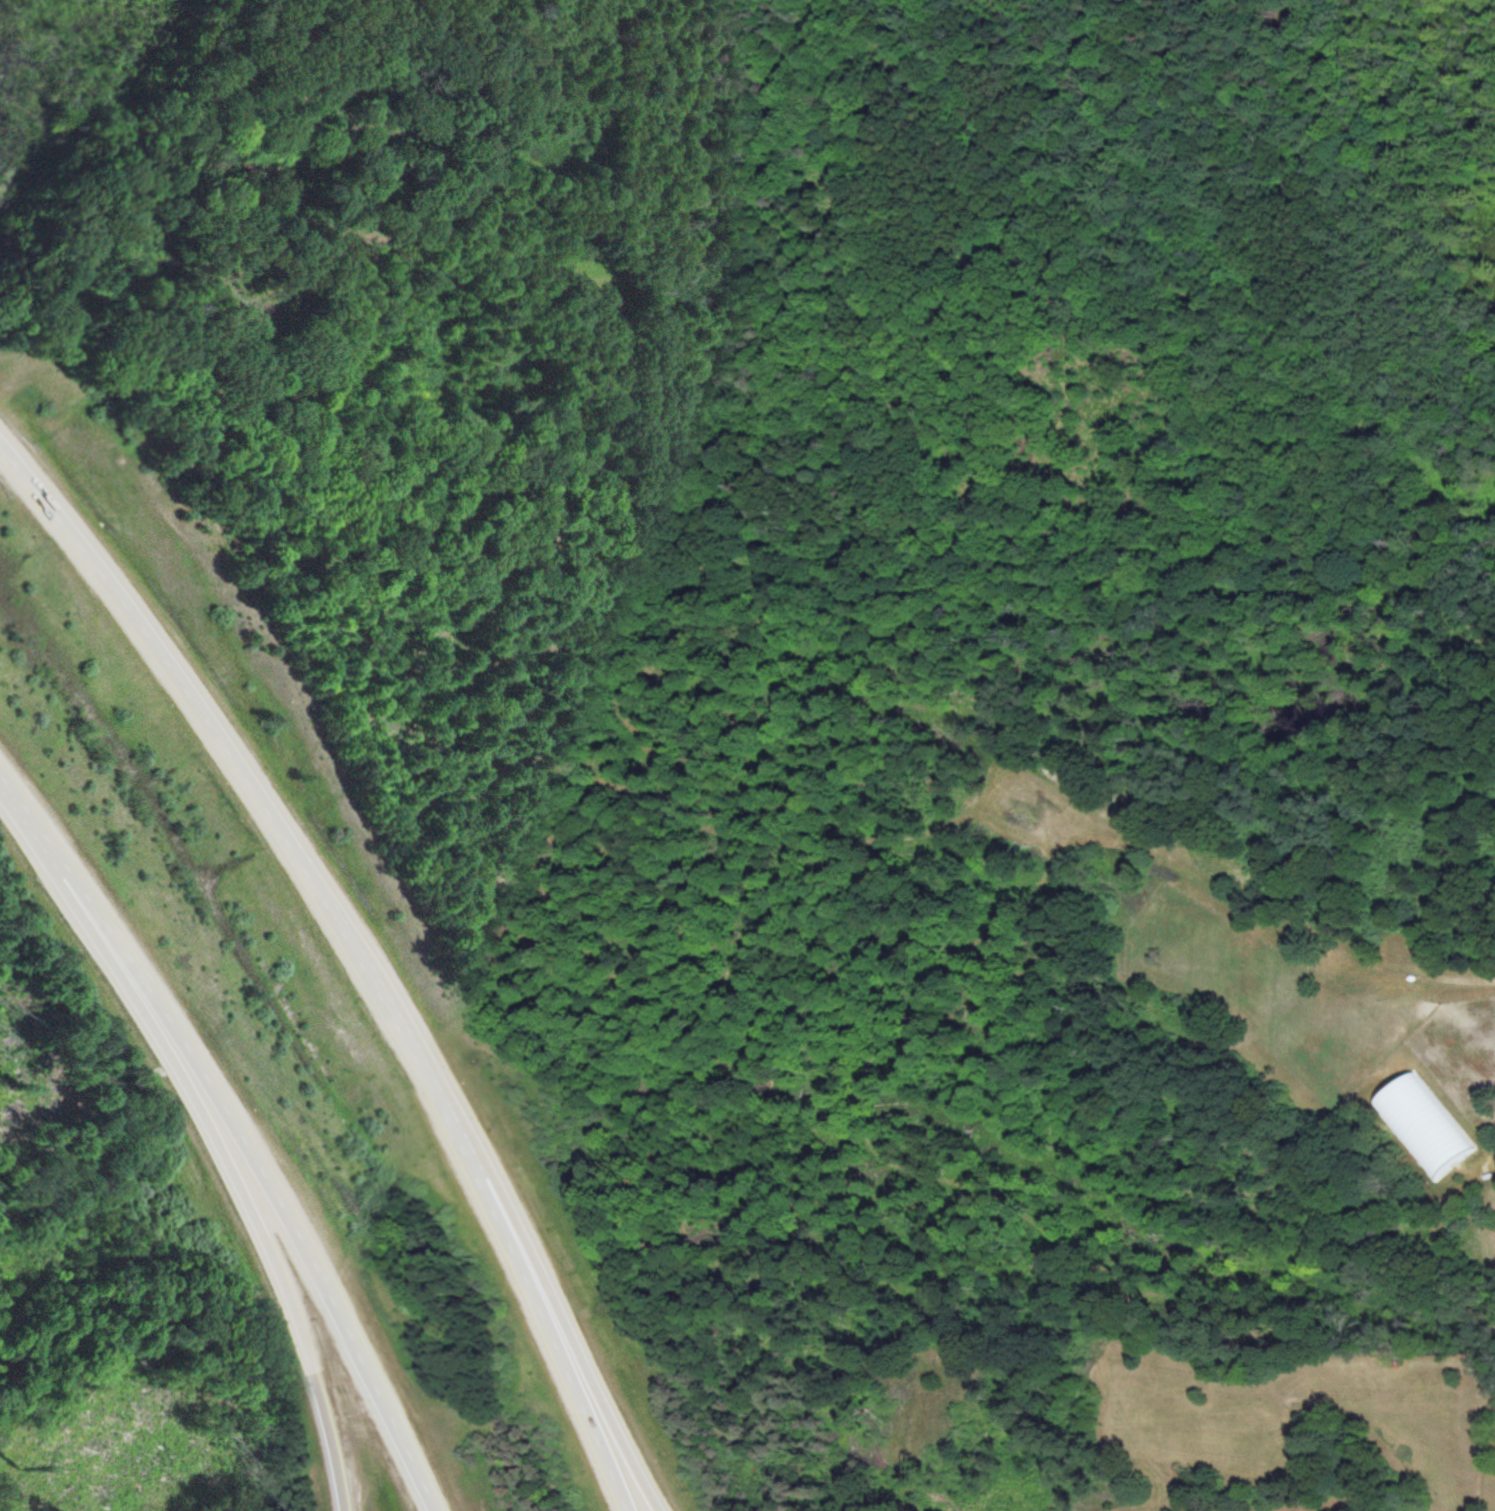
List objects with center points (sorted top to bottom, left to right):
road: (1295, 166)
road: (20, 456)
road: (372, 973)
building: (1424, 1128)
road: (234, 1136)
road: (206, 1138)
road: (594, 1396)

